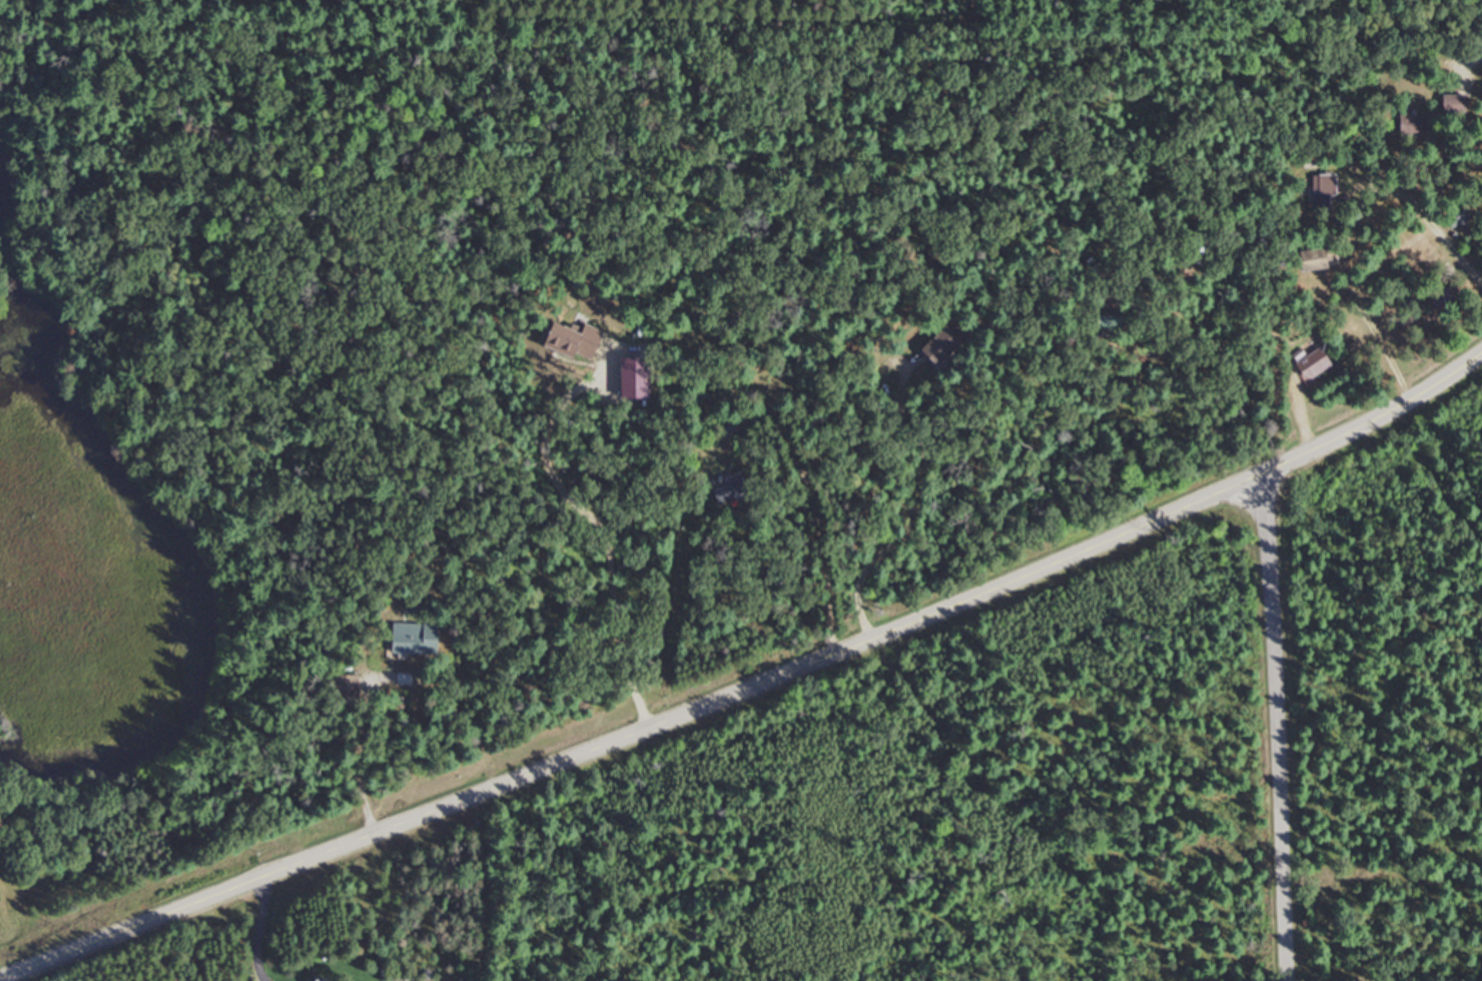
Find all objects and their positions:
building: (1454, 103)
building: (1412, 123)
building: (1321, 188)
building: (1462, 216)
road: (1433, 225)
building: (1318, 257)
building: (1444, 293)
building: (940, 344)
building: (1314, 362)
building: (728, 426)
building: (730, 488)
road: (915, 500)
road: (1262, 523)
road: (594, 527)
building: (414, 638)
road: (752, 686)
park: (1383, 694)
road: (357, 754)
road: (1272, 778)
road: (261, 930)
building: (319, 980)

